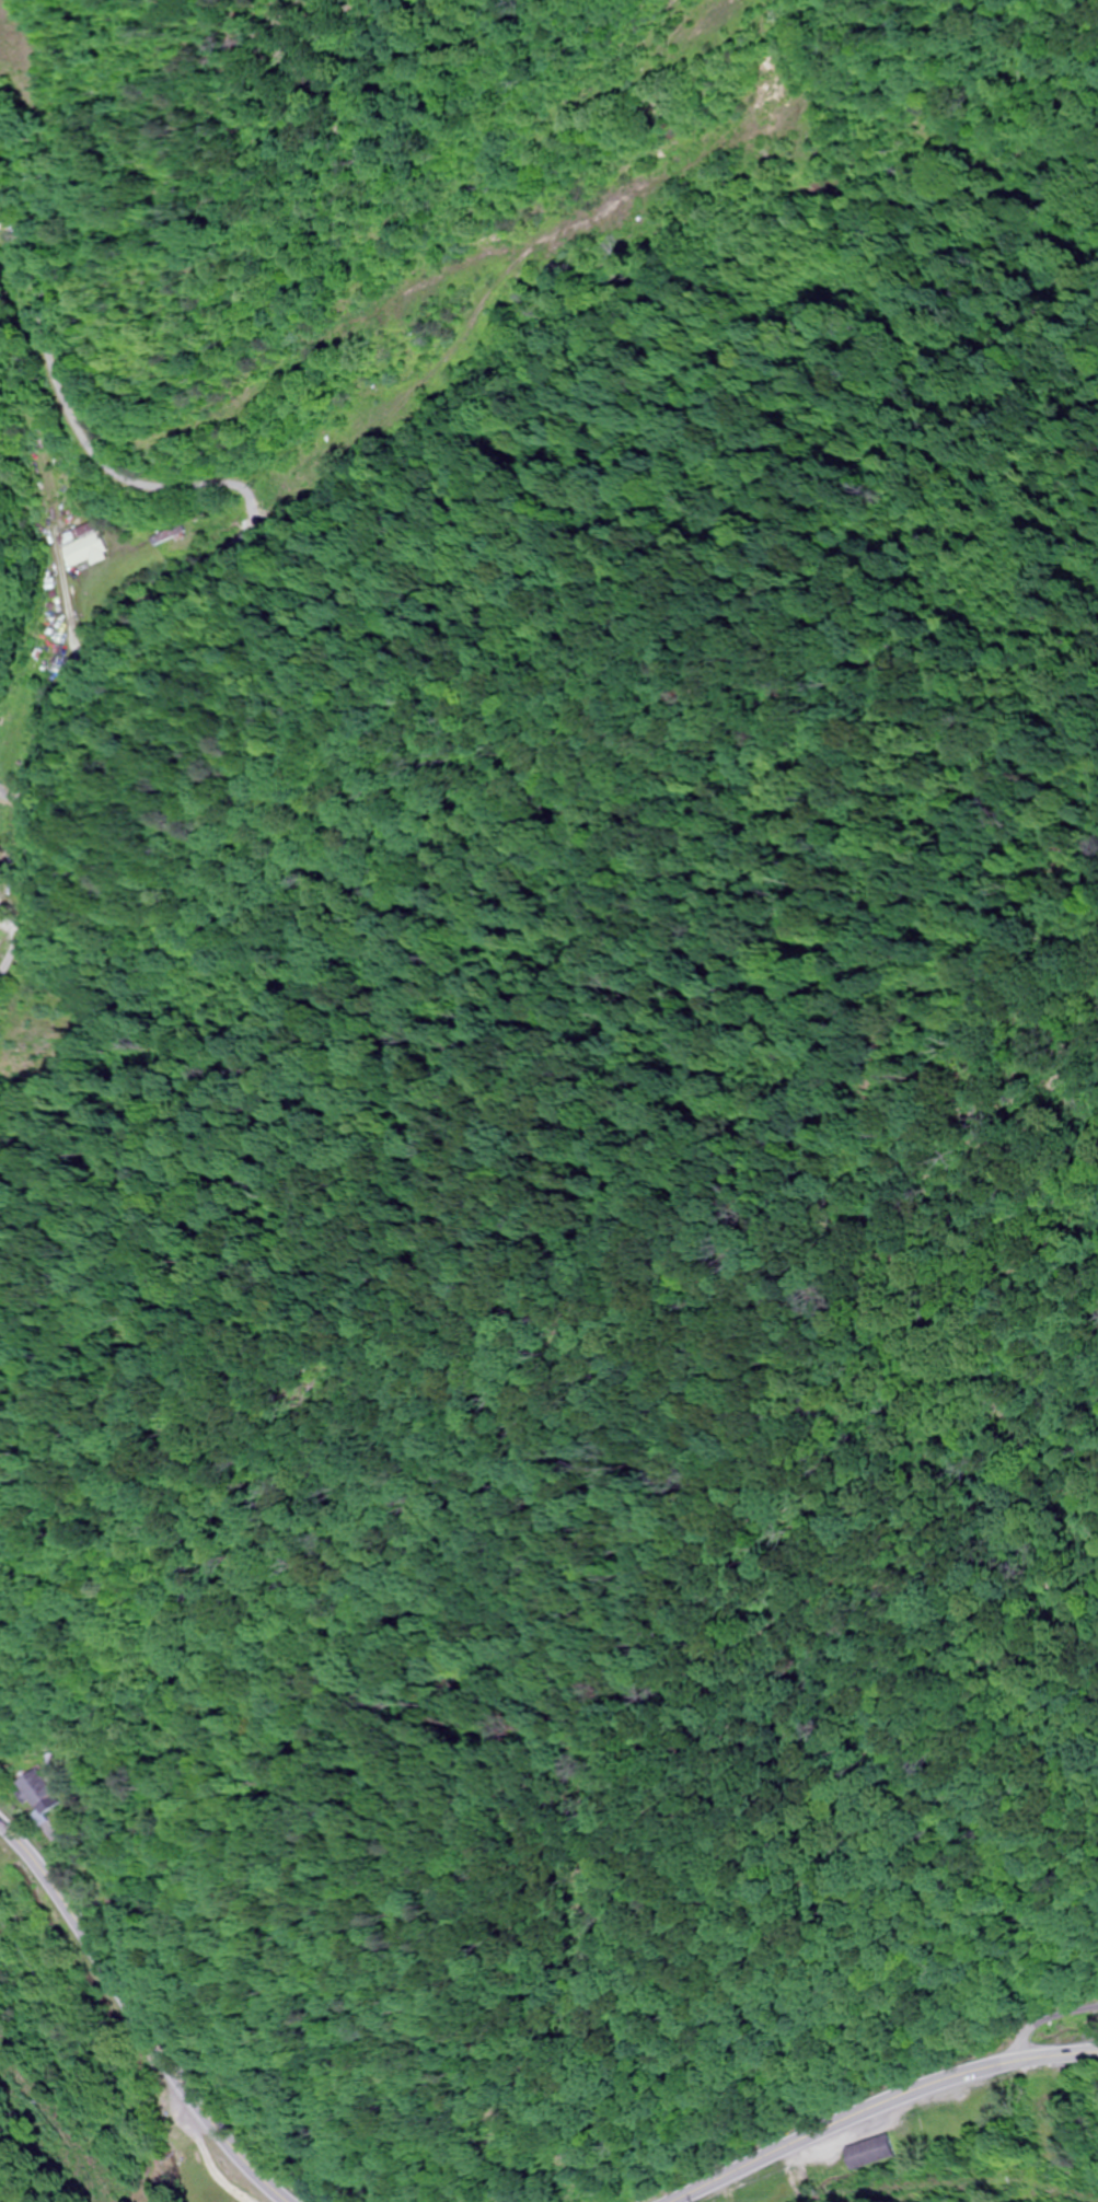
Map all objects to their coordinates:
road: (223, 512)
building: (86, 545)
building: (34, 1040)
building: (45, 1793)
road: (1045, 2019)
road: (136, 2027)
road: (877, 2105)
building: (874, 2154)
building: (779, 2195)

